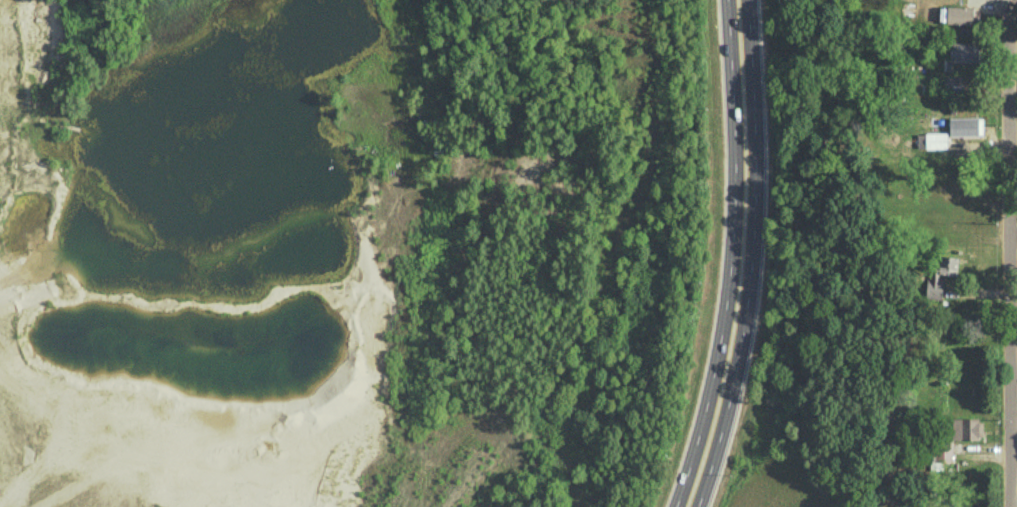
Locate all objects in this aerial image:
building: (960, 14)
building: (964, 52)
building: (953, 83)
building: (966, 125)
building: (932, 140)
road: (1008, 253)
road: (741, 256)
building: (941, 272)
building: (966, 428)
building: (942, 452)

